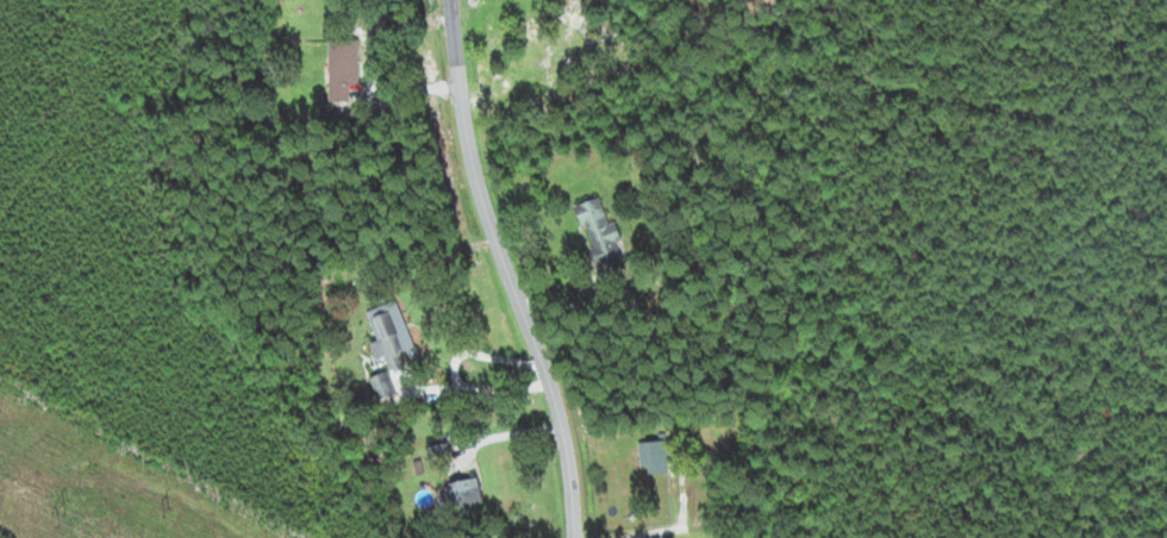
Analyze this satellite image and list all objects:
building: (343, 68)
building: (599, 232)
road: (494, 267)
building: (389, 334)
building: (383, 386)
building: (655, 457)
building: (462, 493)
power tower: (168, 506)
power tower: (67, 527)

